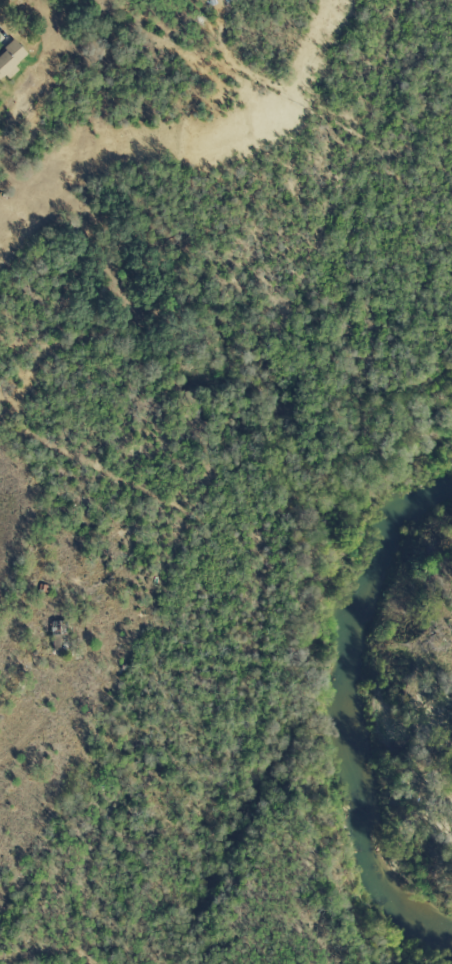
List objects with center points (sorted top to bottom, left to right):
building: (9, 58)
river: (349, 711)
road: (127, 931)

